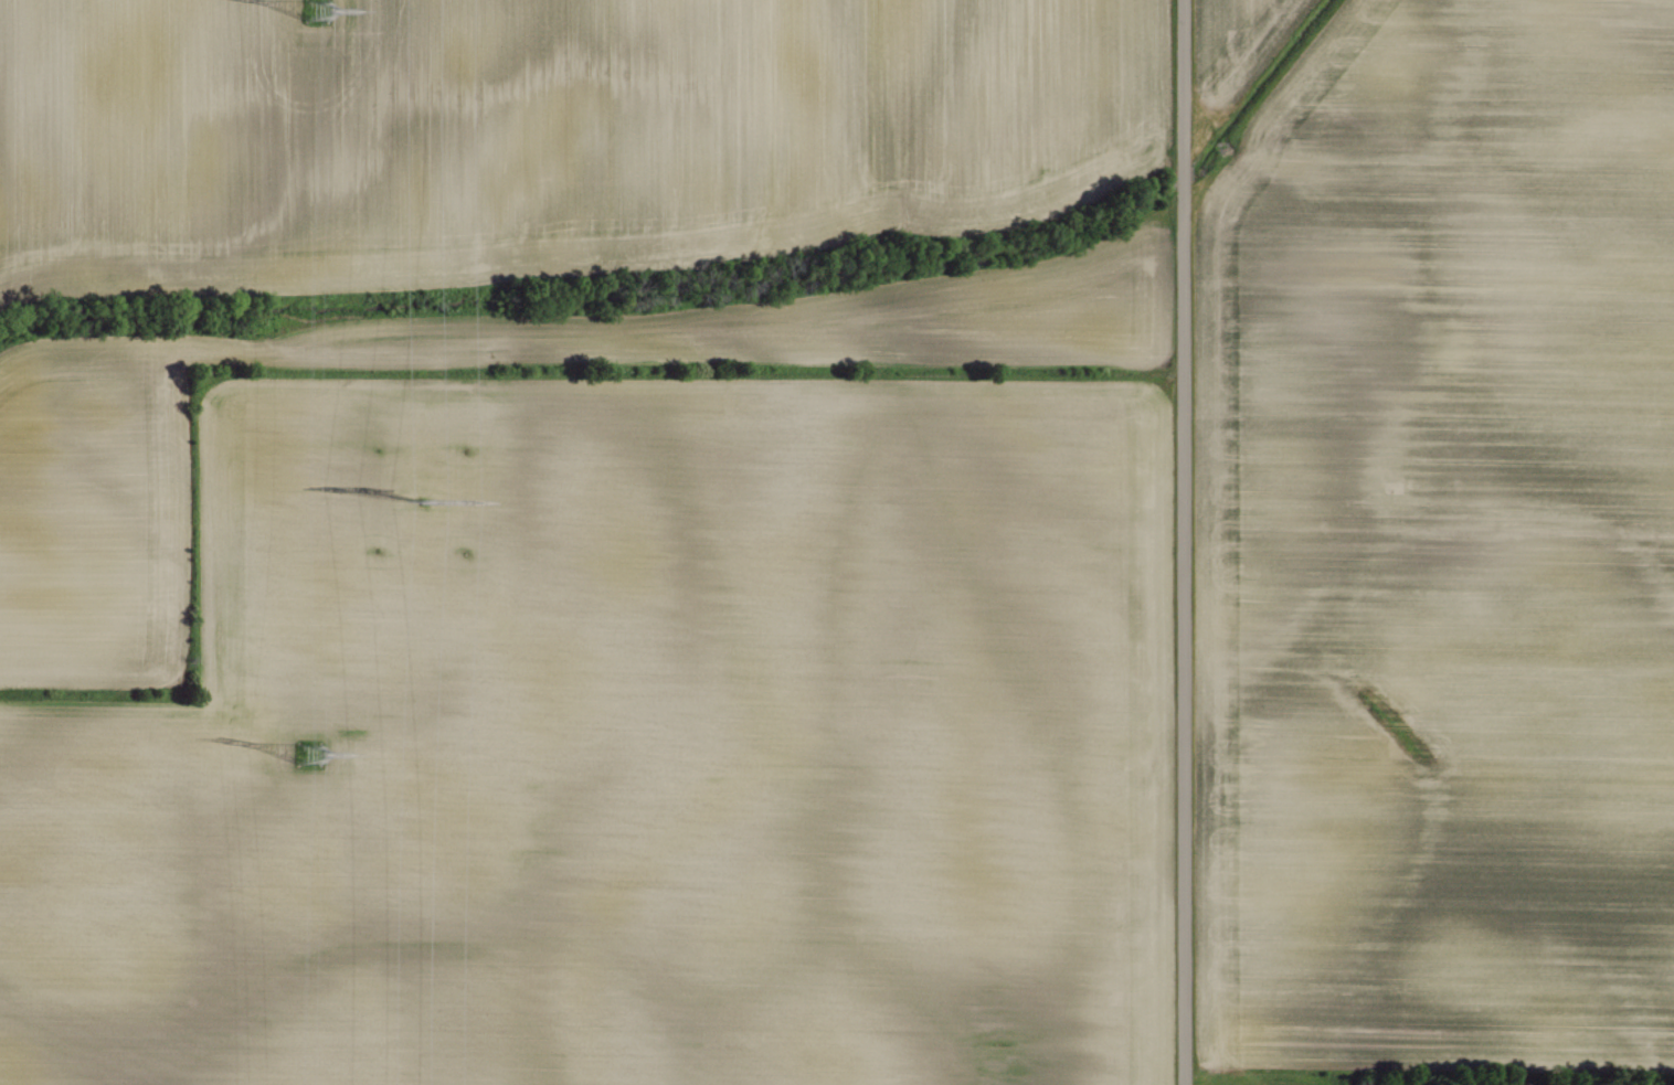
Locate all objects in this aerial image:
power tower: (317, 10)
power tower: (420, 499)
road: (1183, 542)
power tower: (310, 753)

